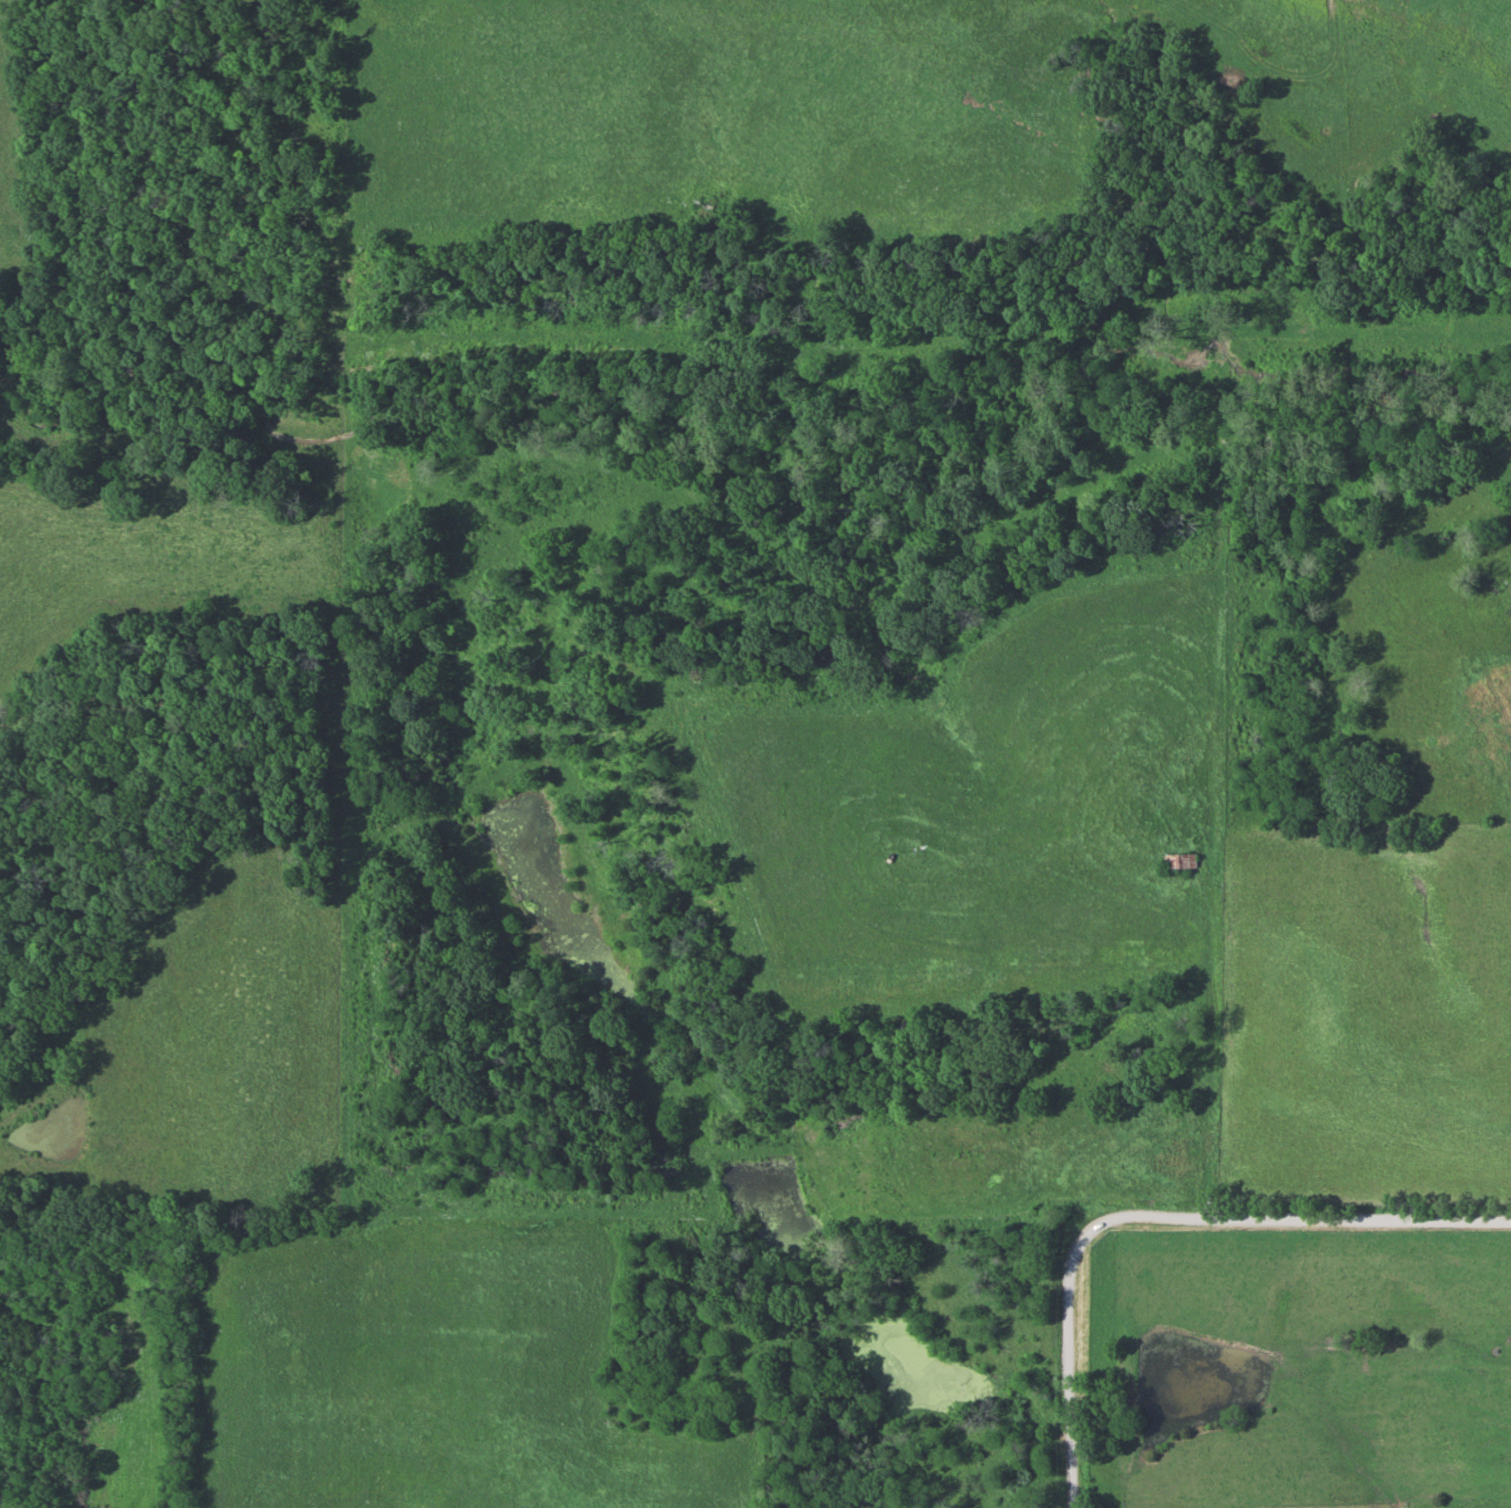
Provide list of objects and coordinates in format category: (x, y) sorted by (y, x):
building: (1181, 861)
road: (1162, 1220)

